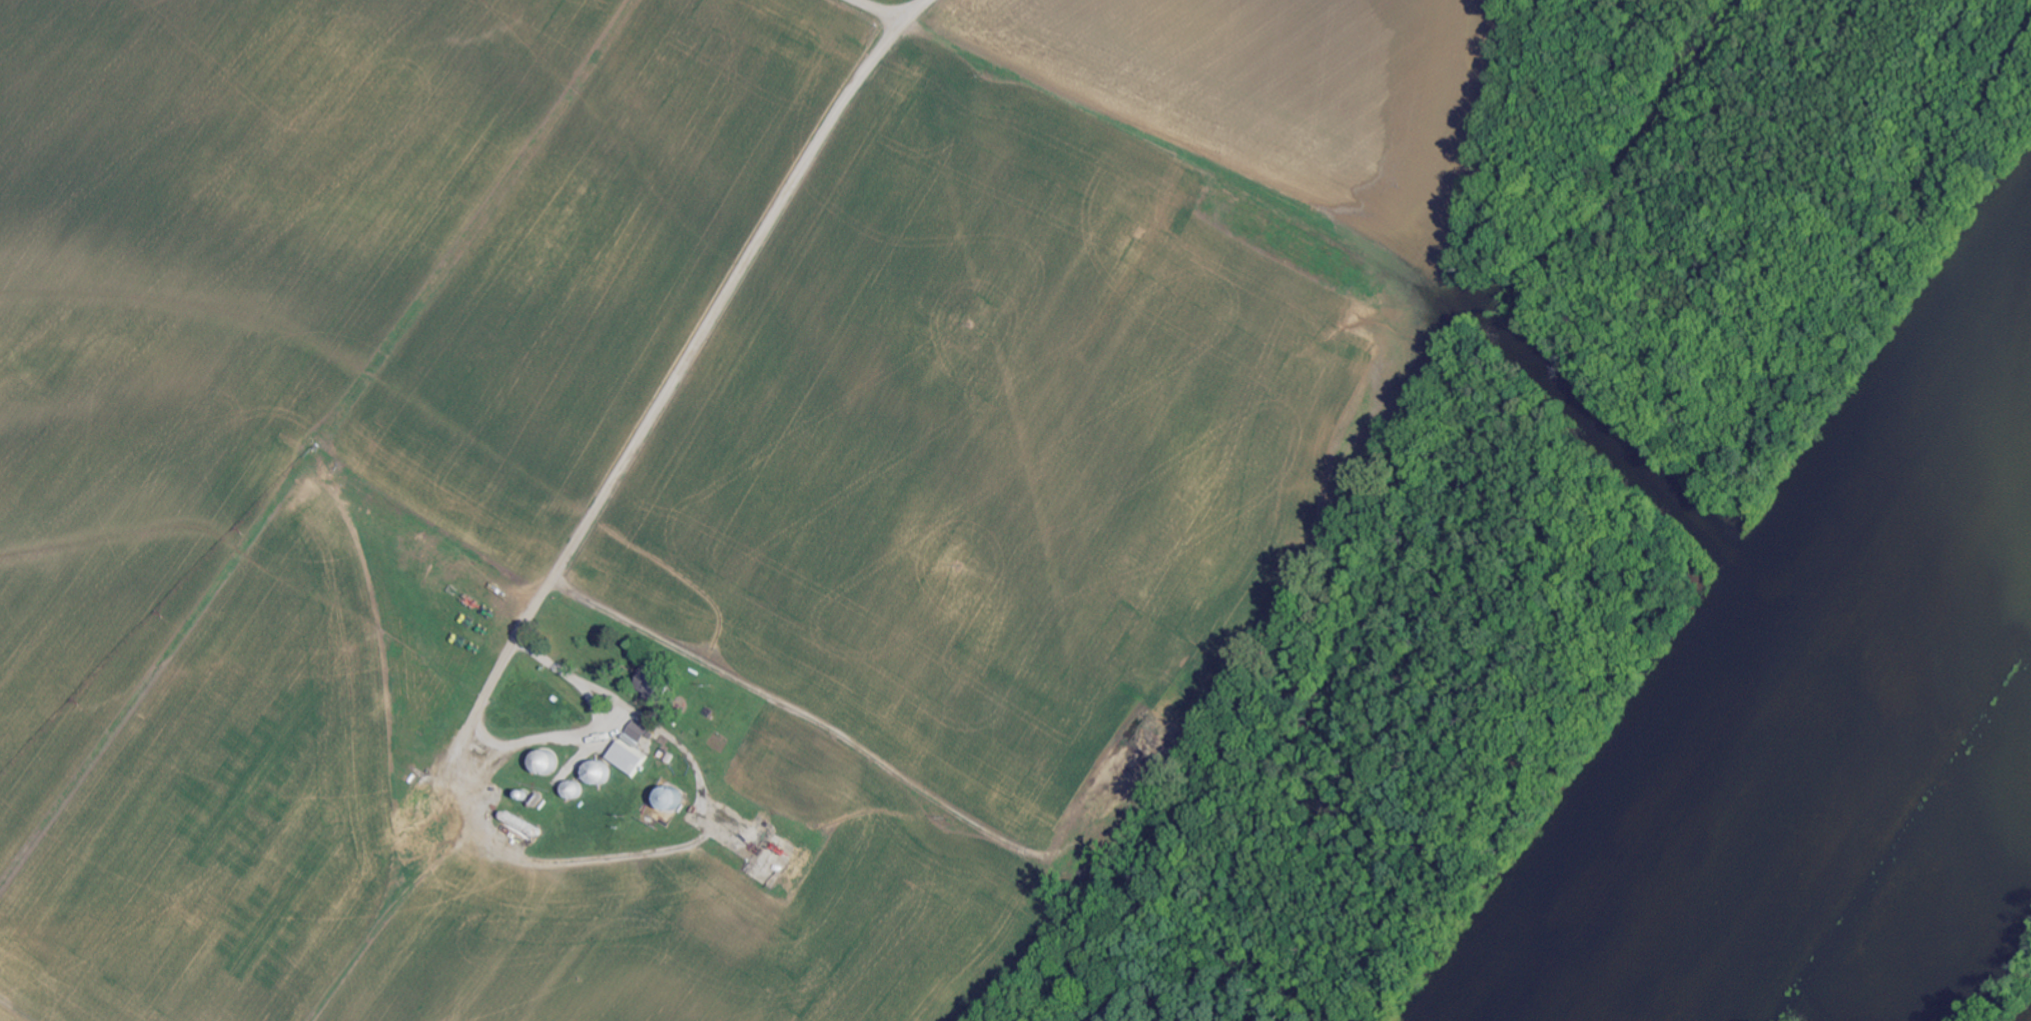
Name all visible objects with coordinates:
road: (891, 11)
road: (1356, 228)
road: (617, 478)
building: (648, 685)
building: (634, 748)

